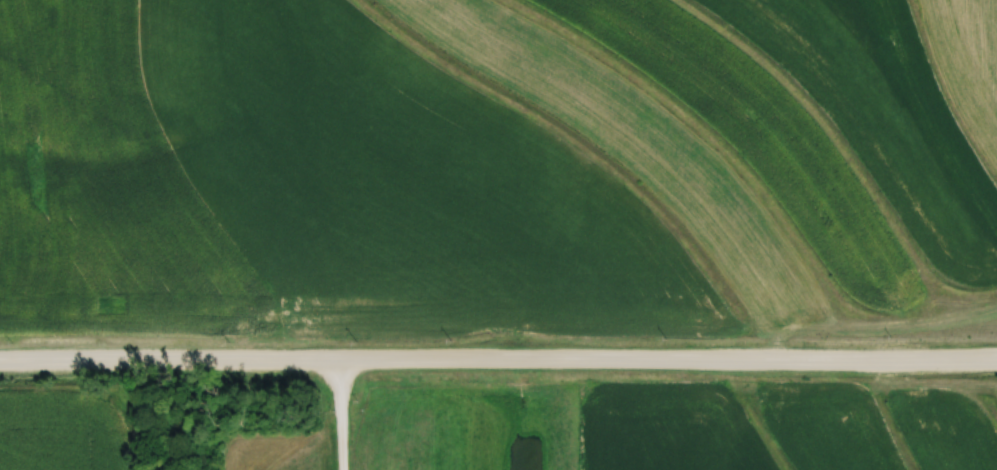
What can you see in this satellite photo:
road: (498, 361)
road: (341, 415)

